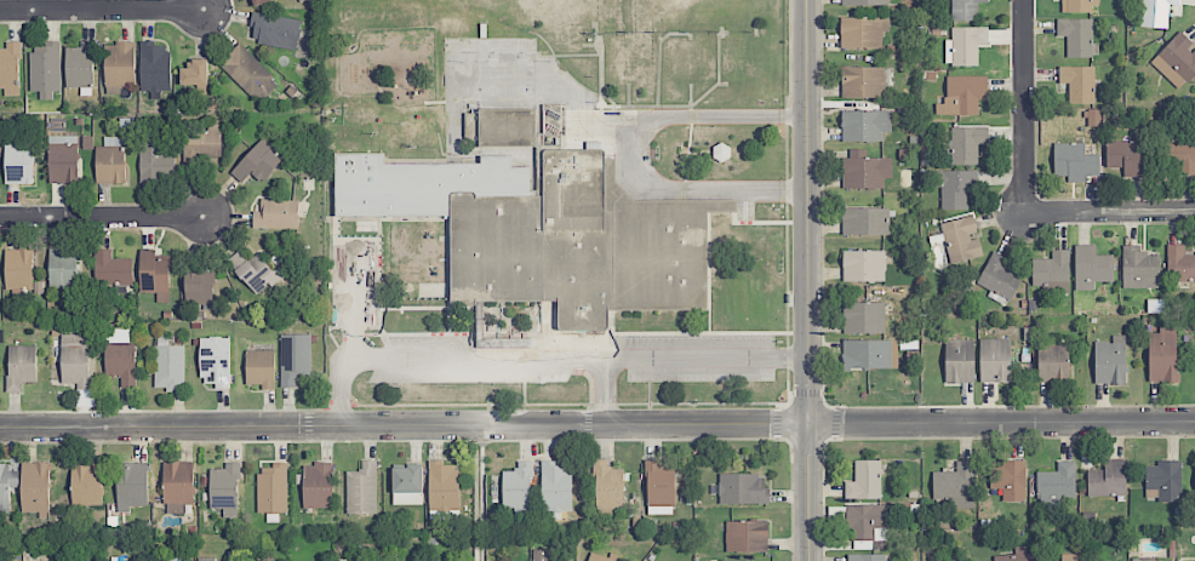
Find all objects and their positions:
building: (261, 1)
building: (865, 2)
building: (1080, 5)
building: (965, 10)
road: (99, 12)
building: (1156, 12)
building: (275, 30)
building: (863, 32)
building: (1077, 36)
building: (966, 45)
building: (1177, 61)
building: (120, 64)
building: (10, 65)
building: (80, 65)
building: (154, 67)
building: (45, 69)
building: (195, 71)
building: (248, 73)
building: (863, 82)
building: (1079, 84)
building: (962, 96)
road: (1024, 105)
building: (865, 125)
building: (508, 127)
building: (967, 143)
building: (201, 144)
road: (630, 154)
building: (1126, 156)
building: (1182, 158)
building: (63, 159)
building: (19, 161)
building: (110, 161)
building: (1074, 161)
building: (257, 162)
building: (155, 164)
building: (865, 170)
building: (954, 188)
road: (1110, 211)
building: (276, 214)
road: (103, 219)
building: (865, 222)
building: (547, 231)
building: (961, 240)
building: (1179, 264)
building: (863, 265)
building: (1092, 267)
building: (1139, 268)
building: (112, 269)
building: (18, 270)
building: (255, 271)
building: (1052, 271)
building: (155, 274)
building: (999, 276)
road: (806, 280)
building: (199, 287)
road: (355, 304)
building: (863, 317)
building: (869, 354)
building: (121, 355)
building: (1162, 355)
building: (295, 357)
road: (544, 359)
building: (75, 360)
building: (995, 360)
building: (216, 361)
building: (960, 361)
building: (1110, 361)
building: (1052, 362)
building: (21, 366)
building: (170, 367)
building: (261, 368)
road: (604, 393)
street lamp: (785, 400)
road: (597, 425)
building: (1010, 479)
building: (1108, 480)
building: (1165, 480)
building: (864, 481)
building: (86, 483)
building: (6, 485)
building: (407, 485)
building: (1056, 485)
building: (132, 486)
building: (178, 486)
building: (318, 486)
building: (442, 486)
building: (955, 486)
building: (35, 487)
building: (607, 487)
building: (224, 488)
building: (273, 488)
building: (362, 488)
building: (555, 488)
building: (659, 488)
building: (518, 490)
building: (743, 490)
building: (868, 522)
building: (747, 537)
building: (539, 555)
building: (1017, 555)
building: (600, 557)
building: (865, 557)
building: (1070, 557)
building: (206, 559)
building: (1143, 559)
building: (261, 560)

